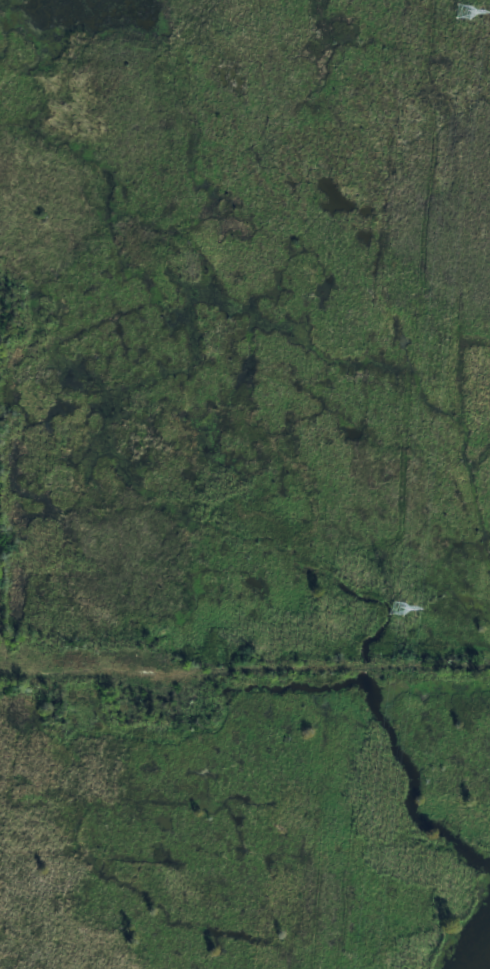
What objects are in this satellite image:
power tower: (462, 12)
power tower: (396, 610)
road: (3, 652)
road: (244, 672)

